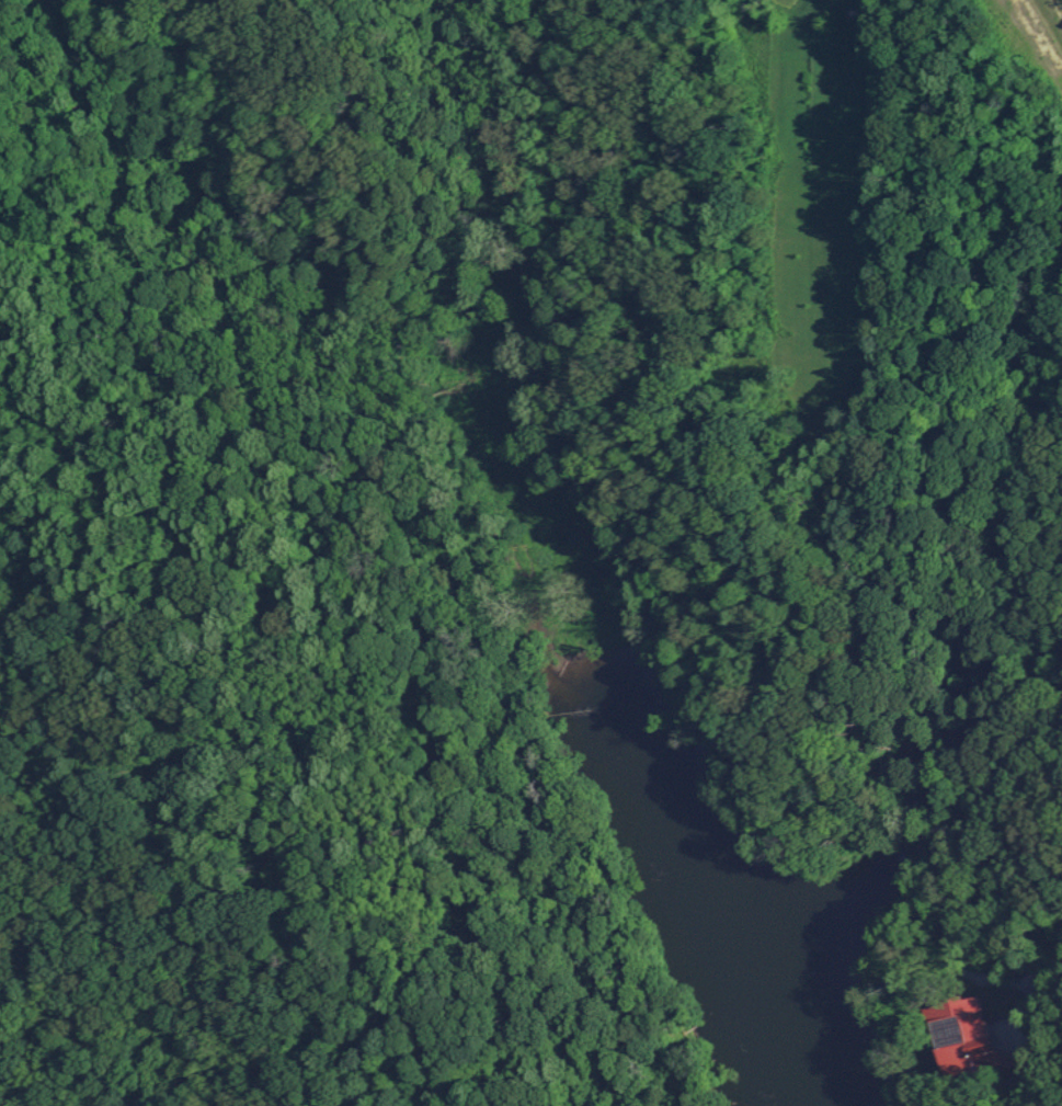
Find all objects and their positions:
road: (840, 114)
road: (1024, 1027)
building: (967, 1033)

